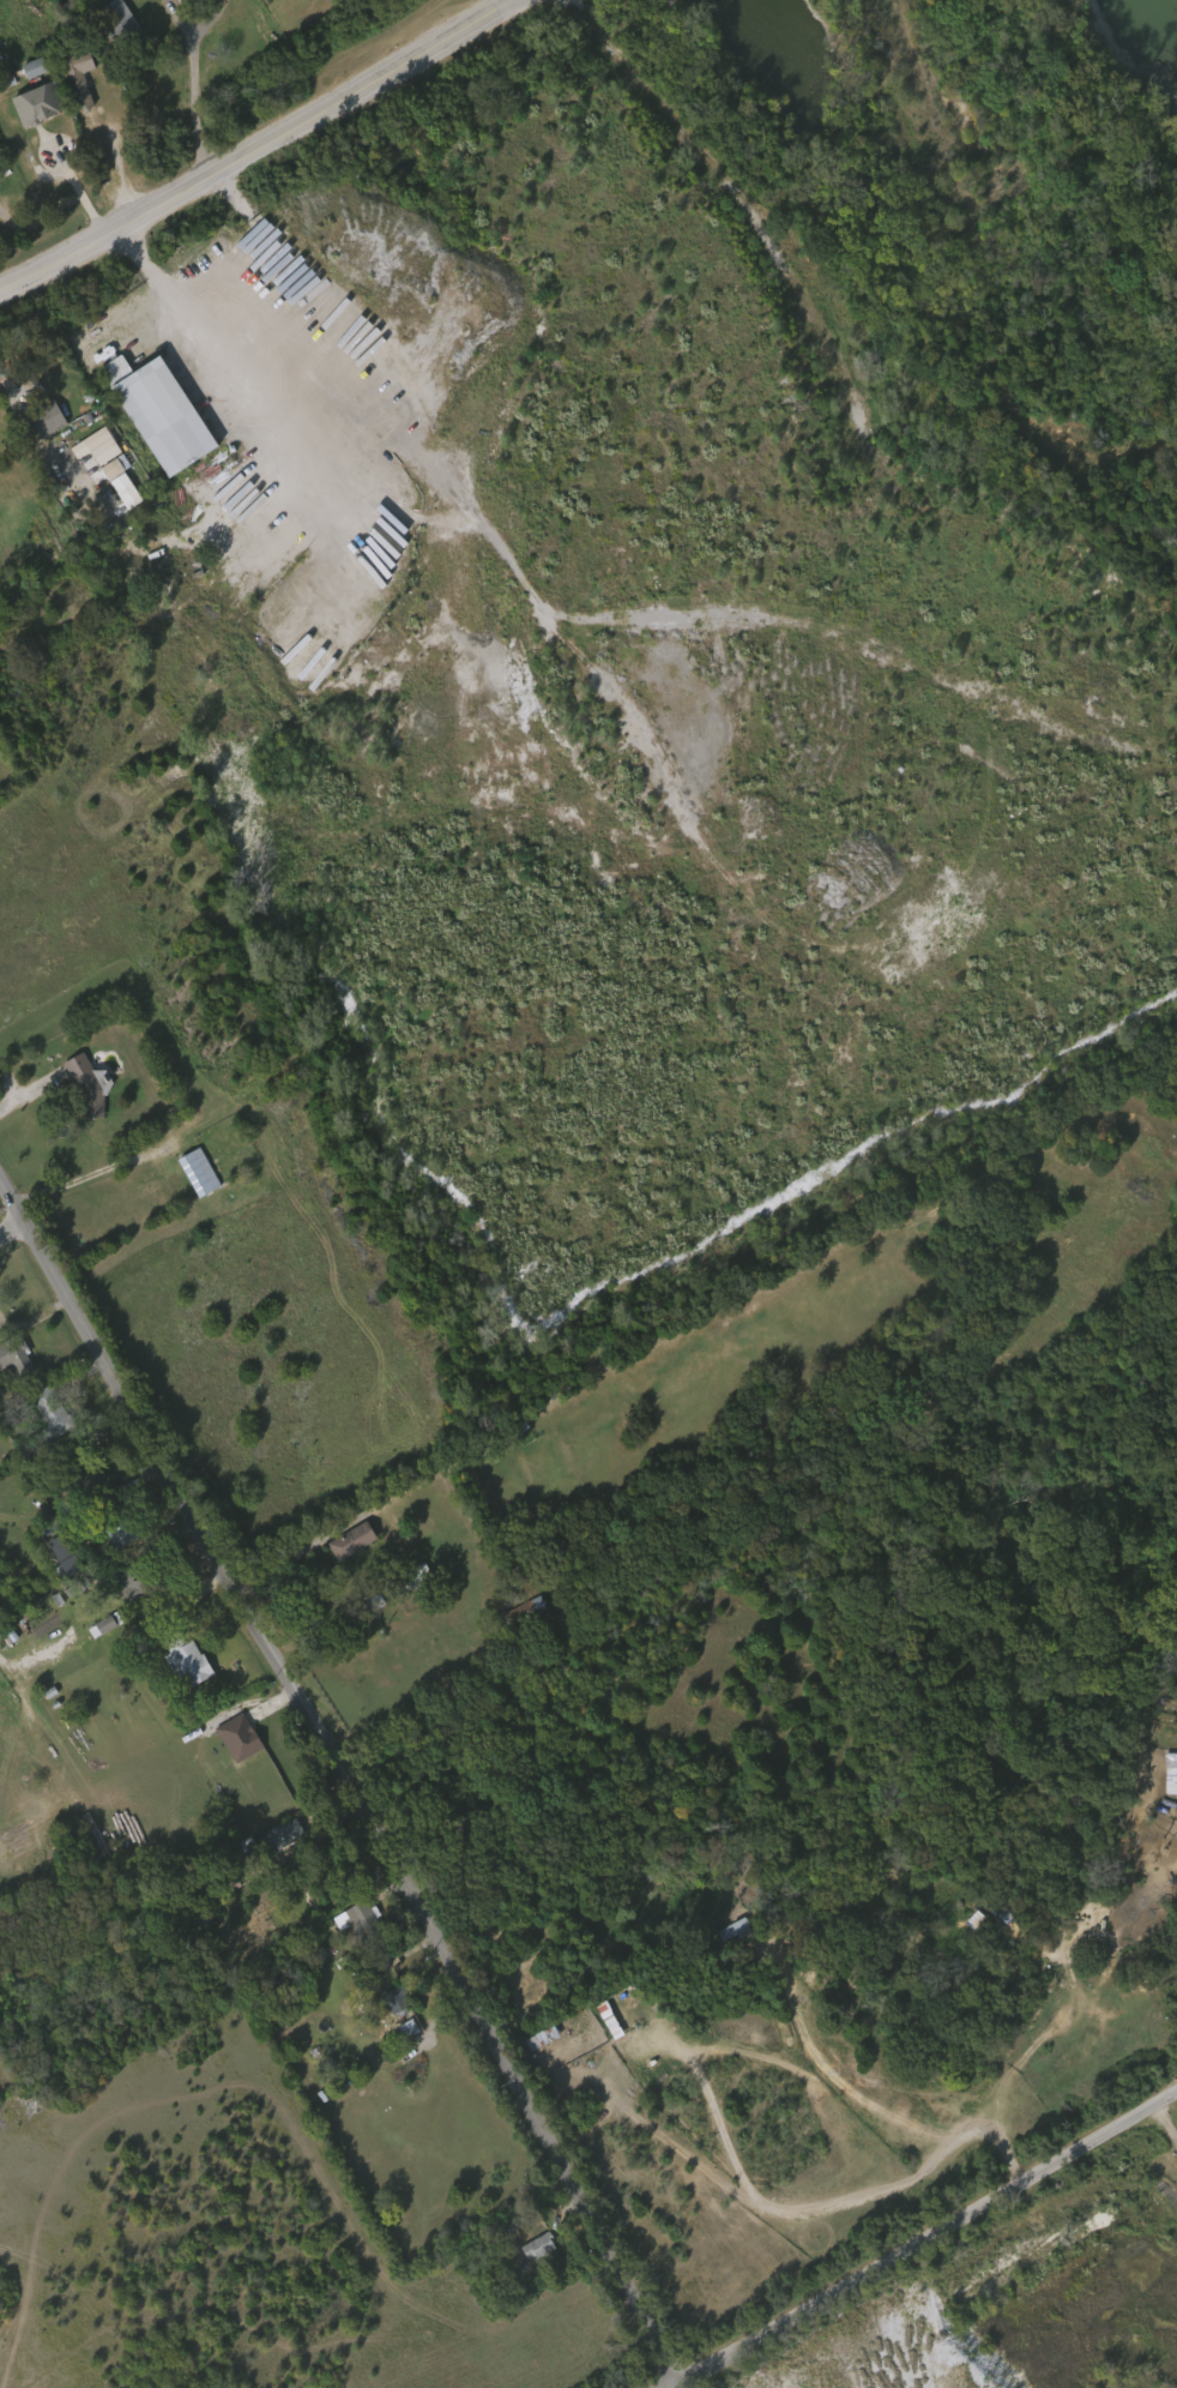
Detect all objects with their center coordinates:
road: (180, 16)
road: (215, 19)
building: (120, 23)
building: (28, 68)
building: (80, 78)
building: (41, 104)
road: (195, 104)
road: (255, 149)
road: (119, 160)
road: (76, 180)
road: (277, 240)
road: (203, 343)
building: (162, 414)
building: (49, 419)
building: (98, 452)
building: (105, 469)
building: (89, 1087)
road: (35, 1091)
building: (201, 1173)
road: (74, 1179)
road: (10, 1226)
building: (17, 1358)
building: (53, 1412)
building: (79, 1469)
building: (111, 1522)
building: (355, 1542)
building: (56, 1552)
building: (412, 1578)
building: (135, 1586)
building: (526, 1614)
building: (98, 1624)
building: (192, 1664)
building: (241, 1738)
building: (1171, 1774)
road: (343, 1781)
building: (278, 1834)
building: (361, 1921)
building: (736, 1933)
building: (716, 1936)
building: (209, 1978)
building: (390, 1999)
building: (400, 2002)
road: (931, 2243)
building: (539, 2248)

